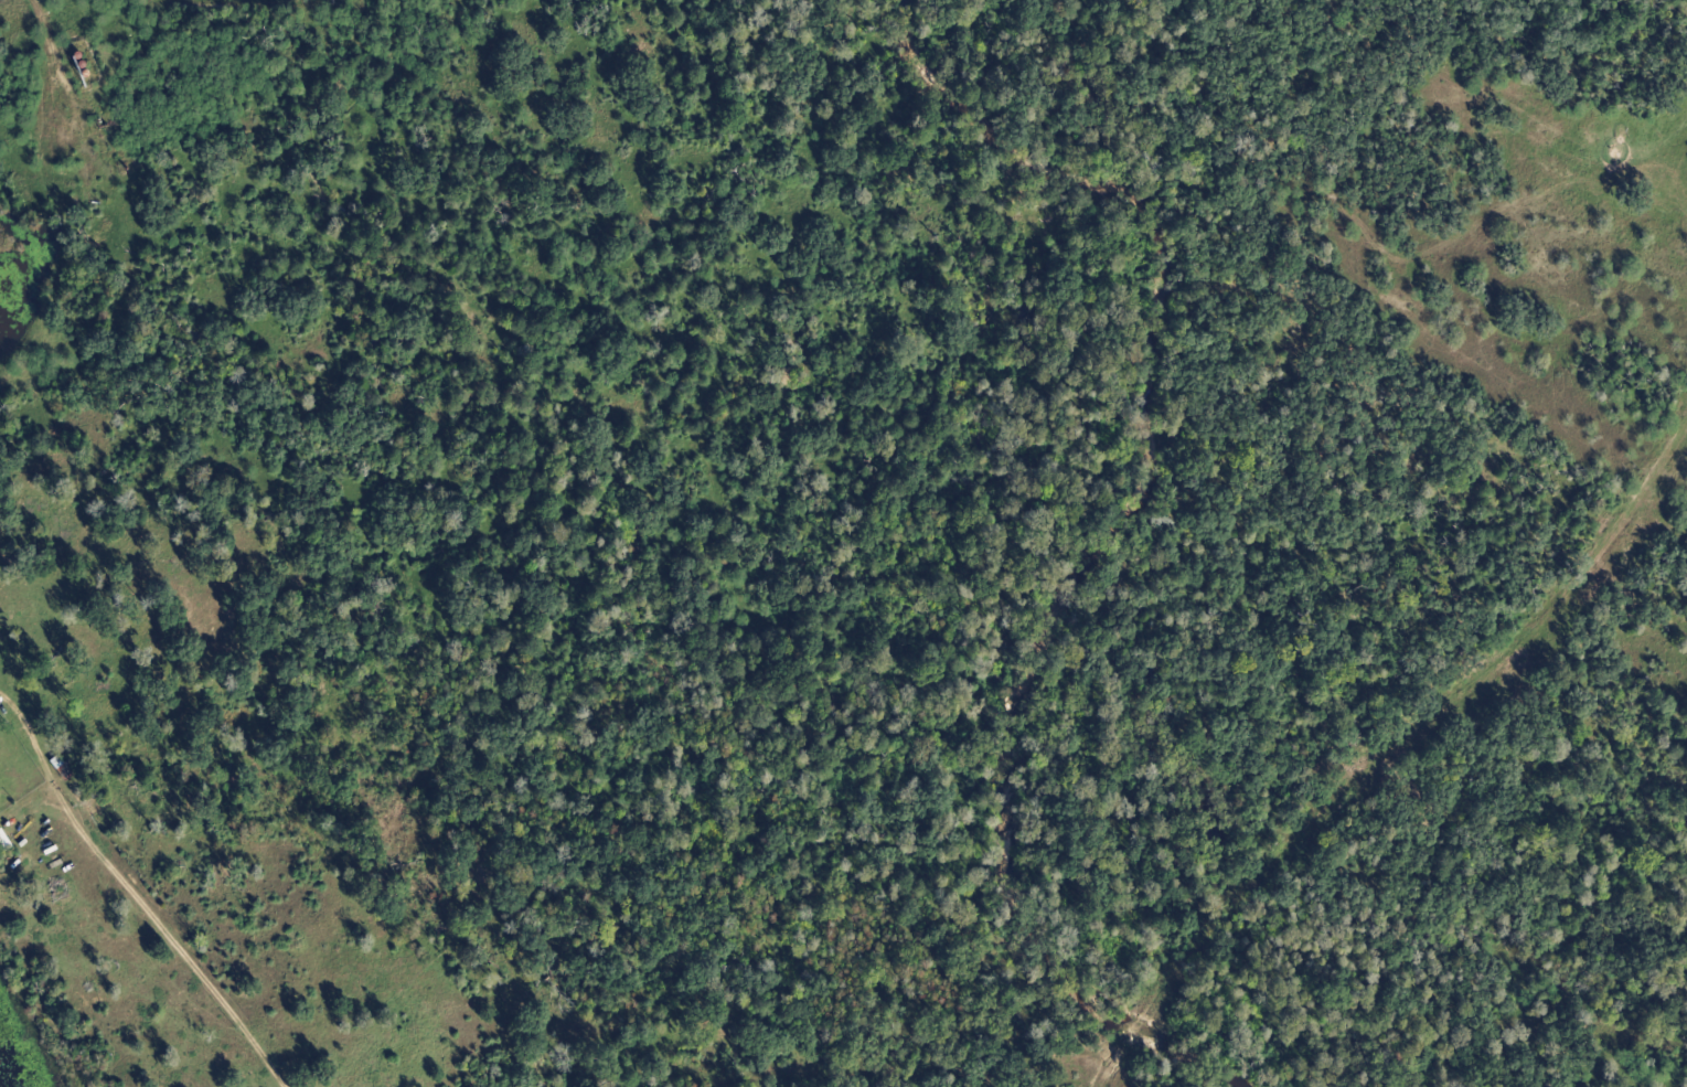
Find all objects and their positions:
building: (62, 769)

